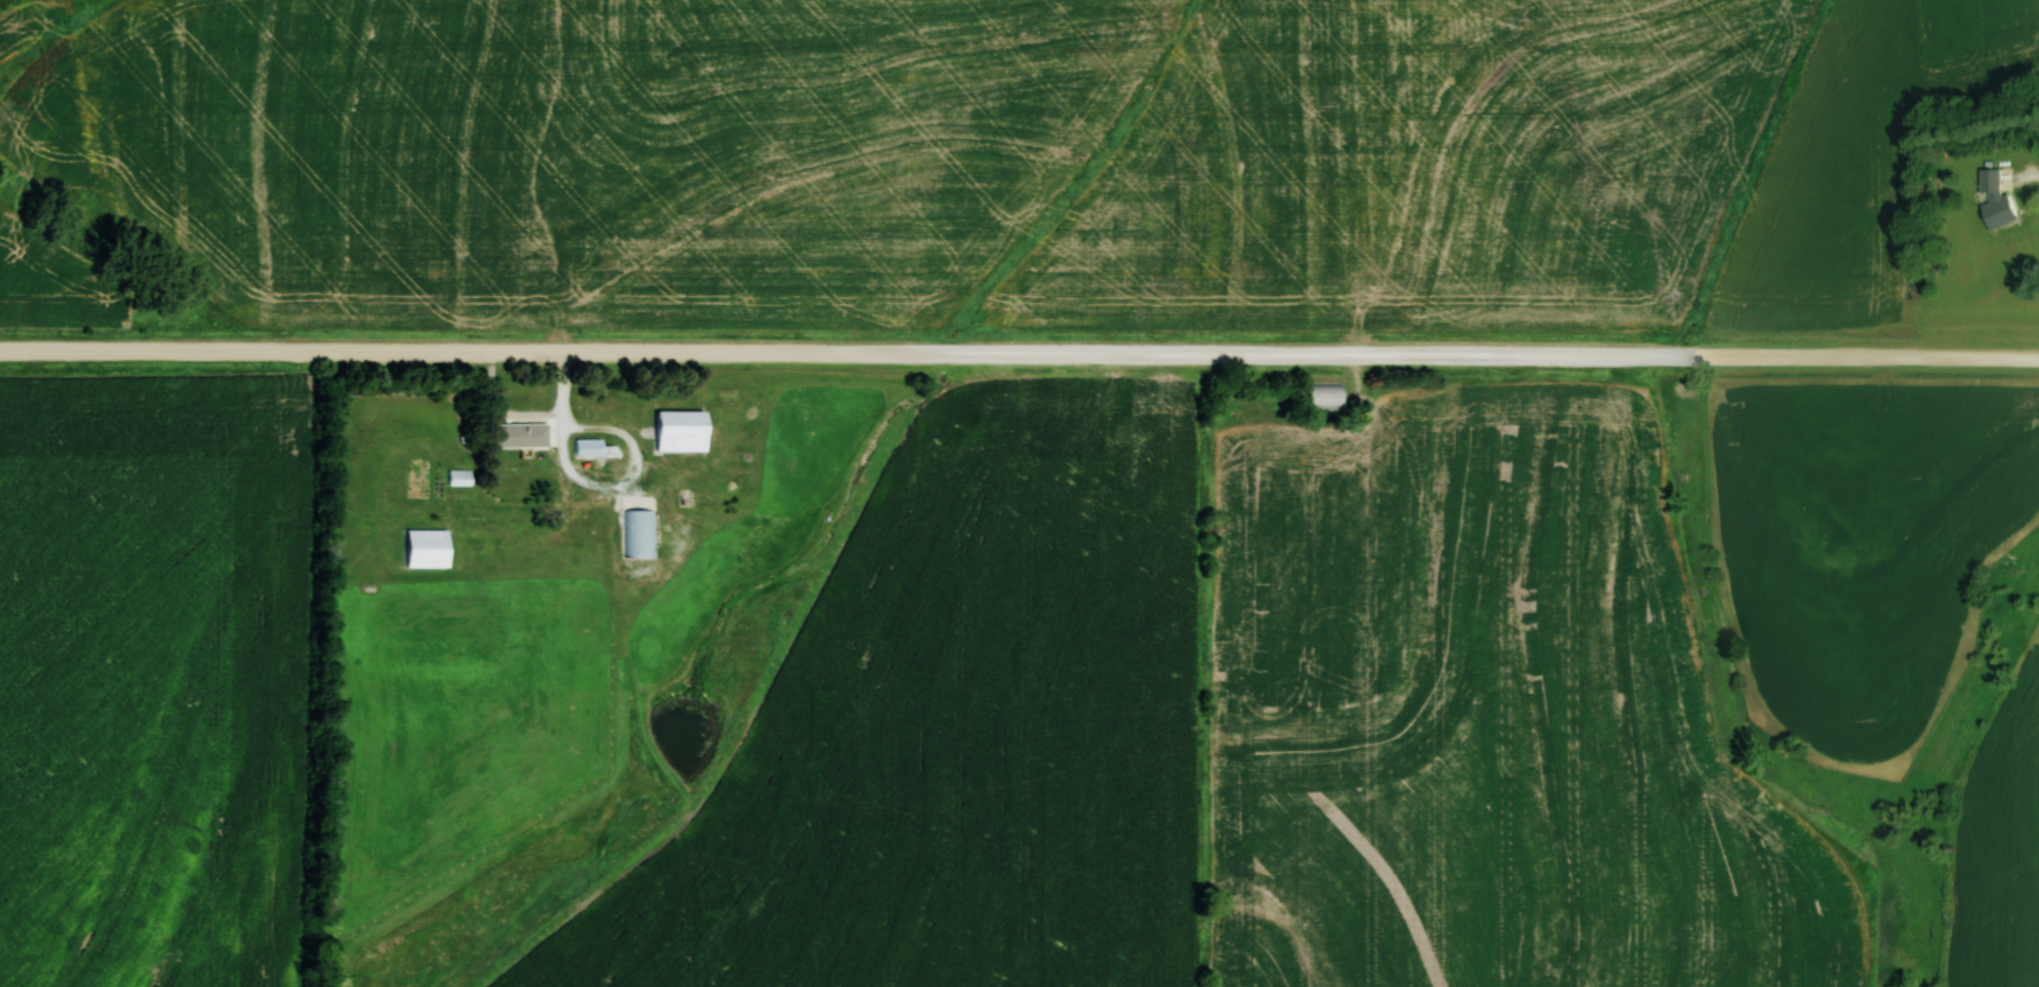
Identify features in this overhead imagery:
building: (1992, 199)
road: (1019, 354)
building: (1328, 396)
building: (685, 430)
building: (524, 434)
building: (594, 447)
building: (464, 474)
building: (638, 531)
building: (430, 547)

